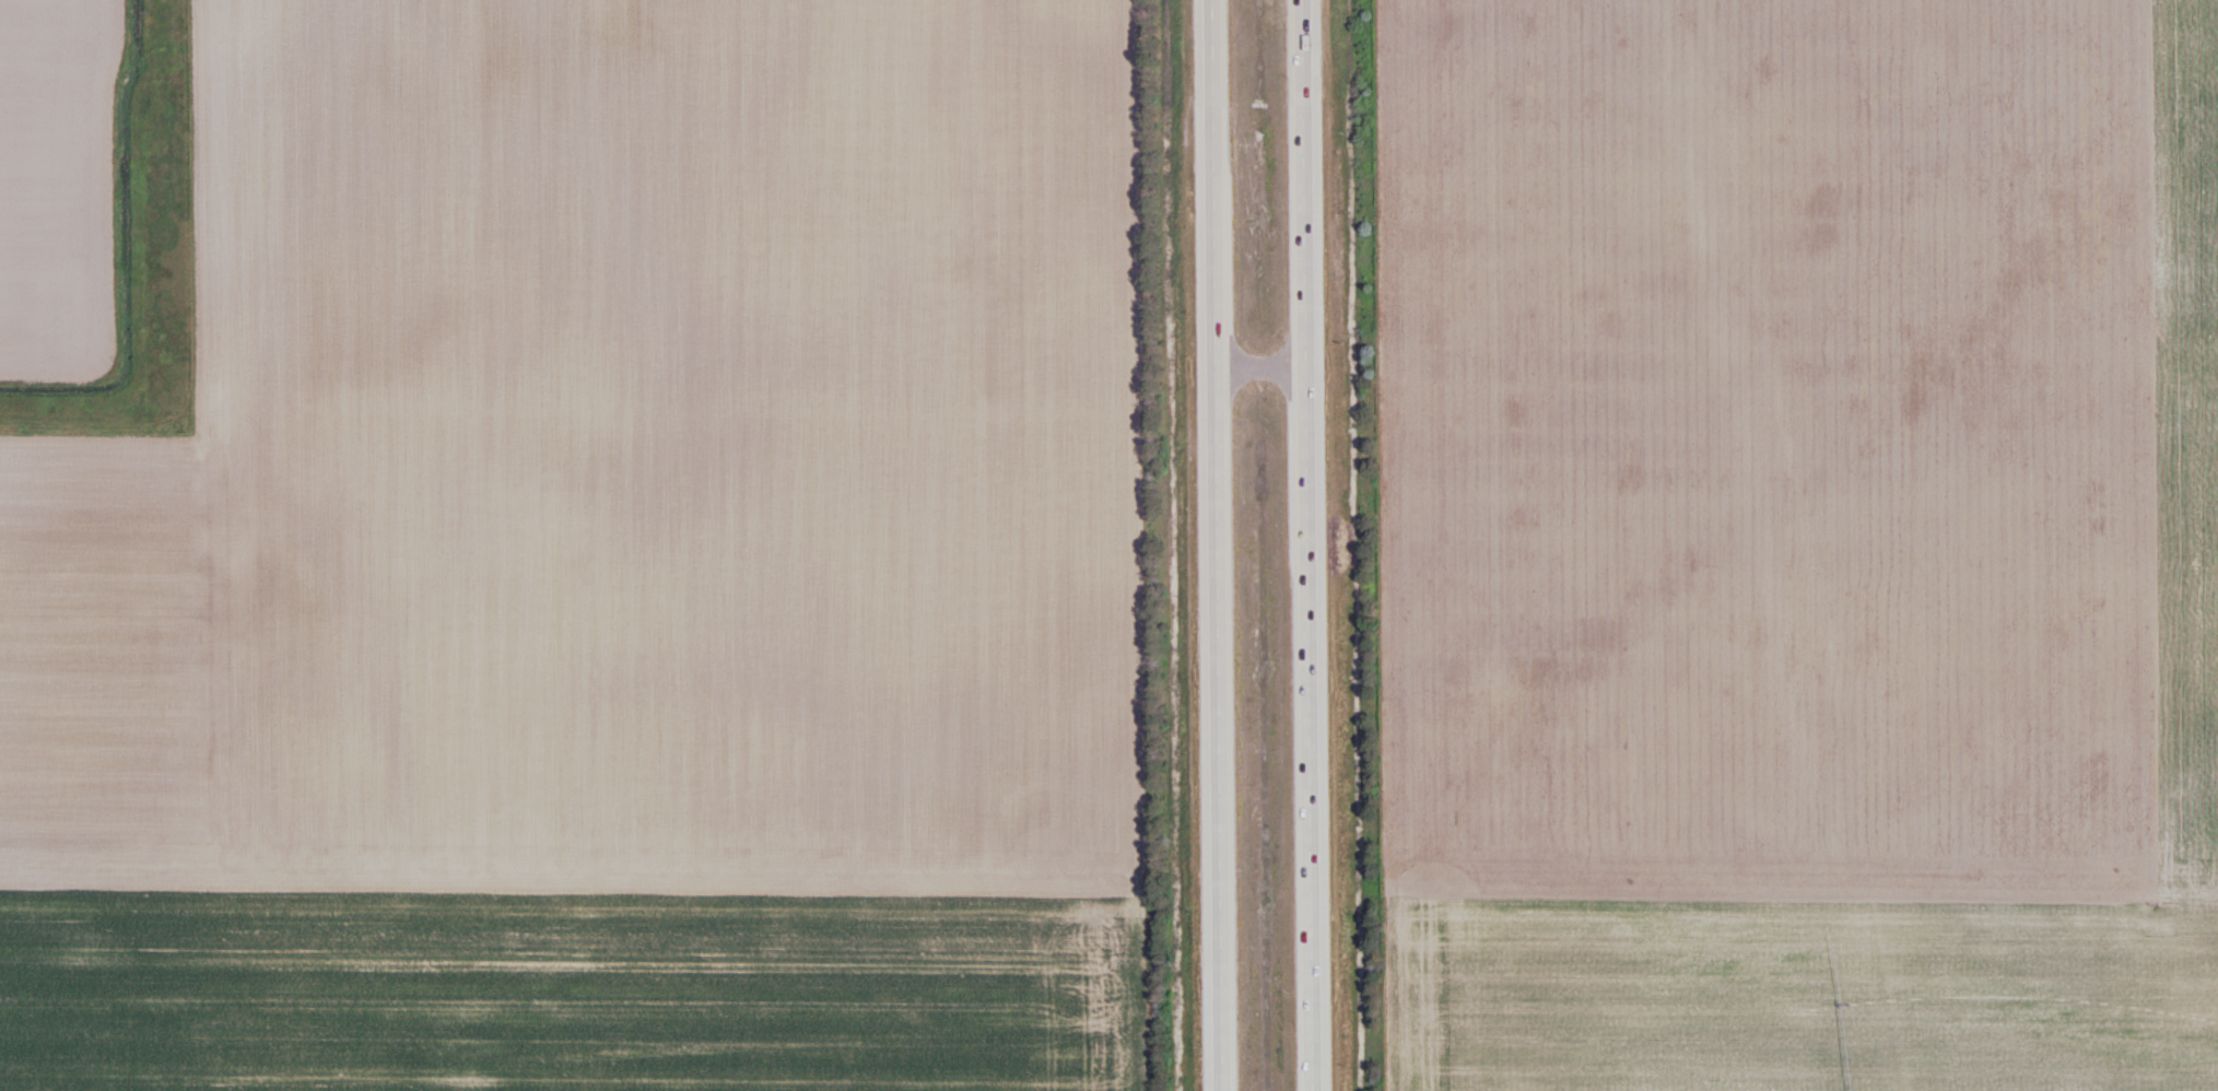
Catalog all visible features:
road: (1255, 356)
road: (1210, 545)
road: (1303, 545)

